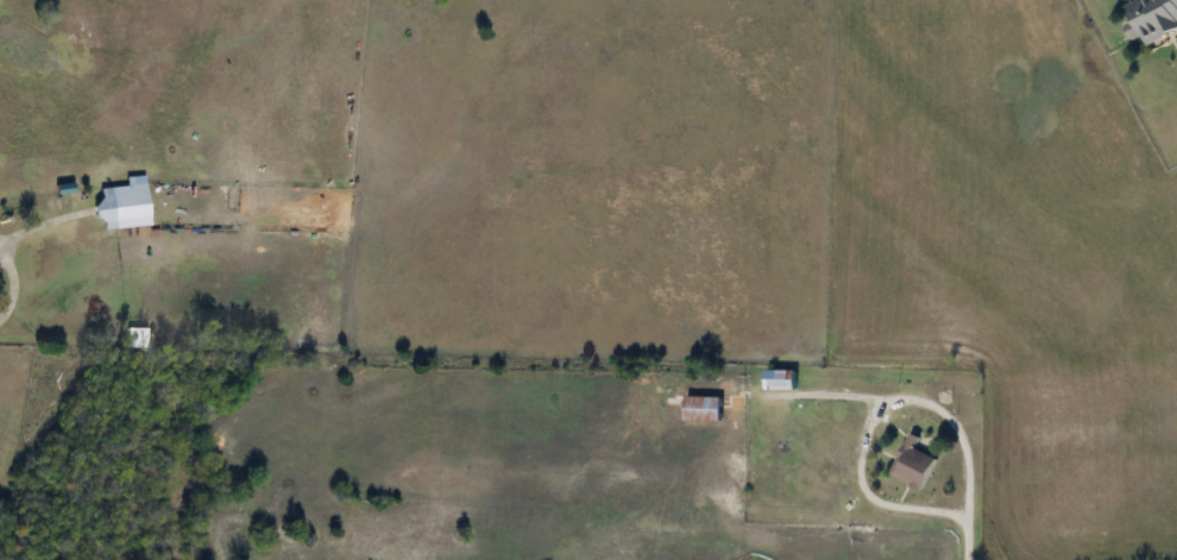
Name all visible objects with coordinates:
building: (1152, 19)
building: (128, 207)
road: (14, 296)
building: (781, 382)
building: (704, 411)
road: (866, 415)
building: (913, 466)
road: (956, 537)

